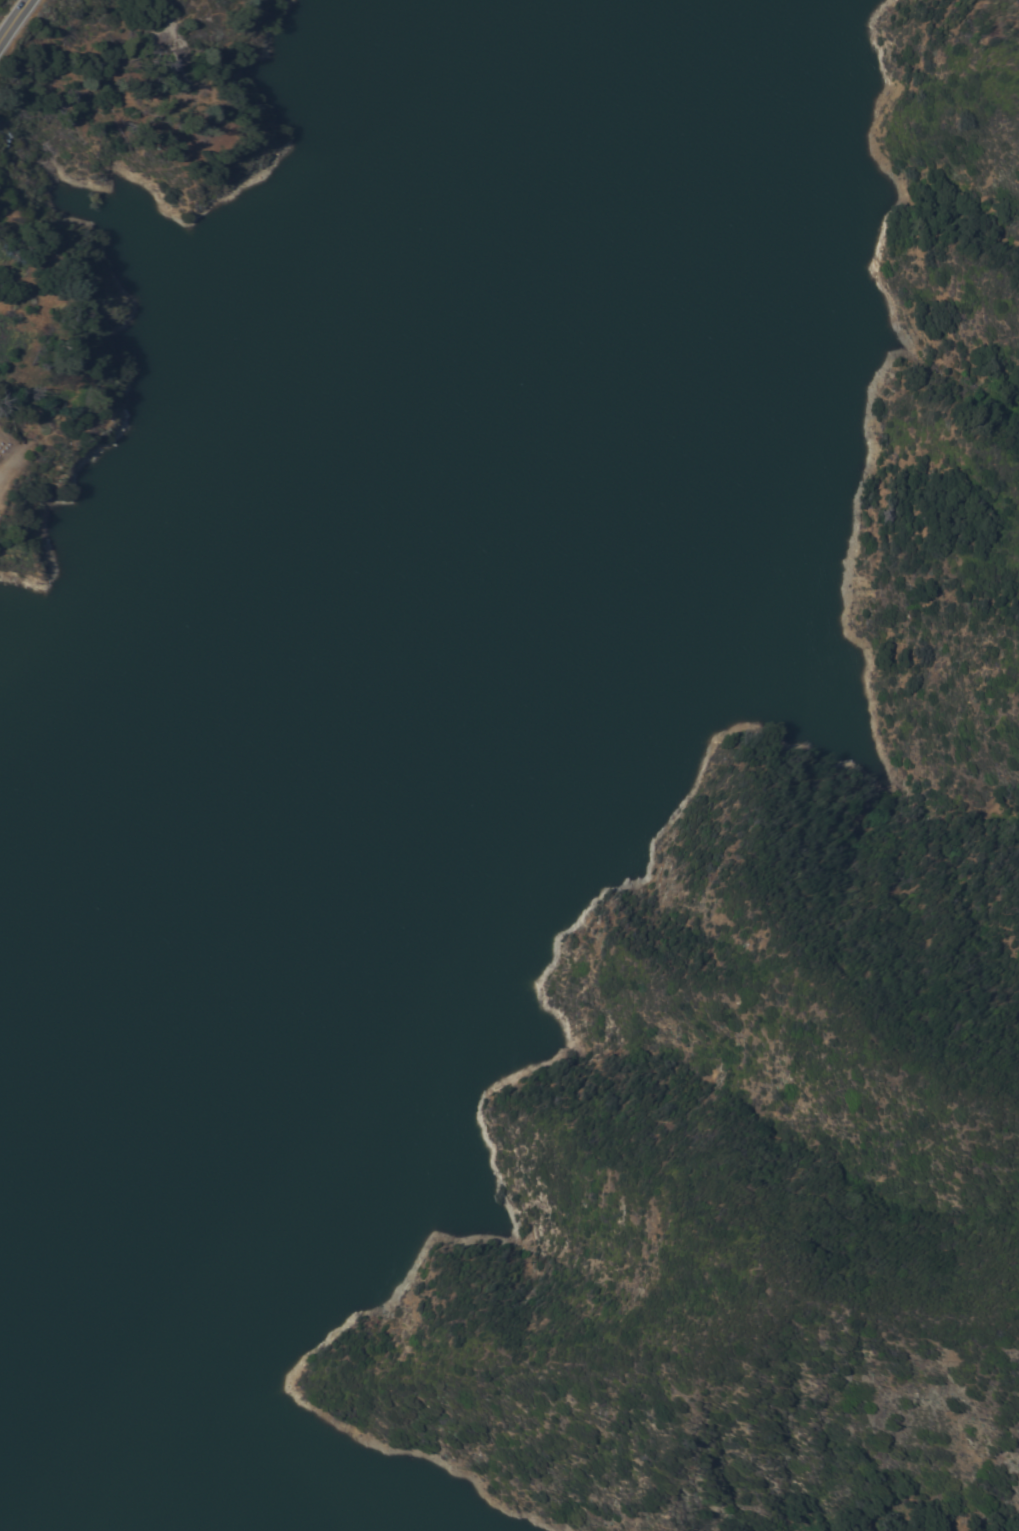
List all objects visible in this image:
road: (12, 17)
river: (346, 393)
river: (496, 713)

